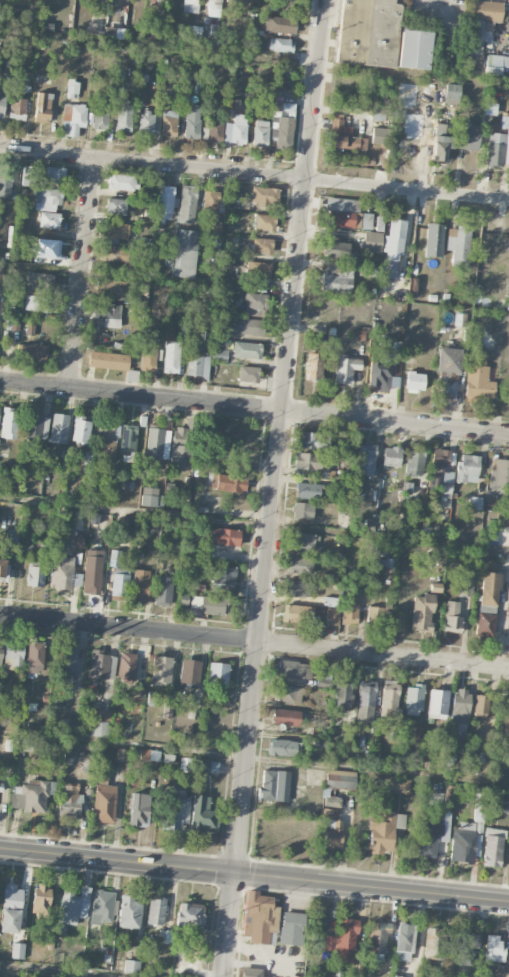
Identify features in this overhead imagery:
building: (190, 6)
building: (215, 8)
building: (486, 11)
road: (442, 24)
building: (280, 25)
building: (94, 29)
building: (368, 33)
building: (475, 36)
building: (280, 45)
building: (414, 50)
road: (254, 57)
building: (495, 65)
building: (72, 91)
building: (451, 93)
building: (233, 104)
building: (2, 106)
building: (283, 106)
building: (42, 108)
building: (17, 109)
building: (490, 109)
building: (113, 112)
building: (73, 118)
building: (192, 122)
building: (146, 123)
building: (169, 123)
building: (236, 130)
building: (213, 131)
building: (282, 132)
building: (260, 133)
building: (344, 136)
building: (468, 136)
building: (442, 142)
building: (495, 150)
building: (507, 152)
building: (50, 174)
road: (254, 175)
building: (28, 176)
building: (122, 182)
building: (5, 186)
building: (264, 196)
building: (47, 200)
building: (211, 201)
building: (232, 203)
building: (187, 204)
building: (116, 206)
building: (347, 215)
building: (49, 220)
building: (264, 222)
building: (379, 224)
building: (115, 230)
building: (213, 231)
building: (434, 240)
building: (372, 242)
building: (262, 246)
building: (458, 246)
building: (392, 247)
building: (47, 249)
building: (338, 250)
building: (113, 253)
building: (185, 254)
road: (82, 272)
building: (258, 273)
building: (337, 278)
building: (110, 289)
building: (38, 292)
building: (255, 305)
building: (108, 314)
building: (13, 324)
building: (249, 327)
building: (29, 329)
building: (362, 335)
building: (245, 350)
building: (32, 352)
building: (148, 355)
building: (218, 355)
building: (171, 357)
building: (108, 361)
building: (197, 366)
building: (314, 366)
building: (345, 369)
building: (380, 370)
building: (447, 371)
building: (248, 374)
building: (415, 382)
building: (478, 383)
road: (254, 406)
building: (8, 423)
building: (38, 428)
building: (58, 429)
building: (80, 432)
building: (308, 440)
building: (106, 442)
building: (128, 442)
building: (180, 448)
building: (154, 449)
building: (346, 457)
building: (366, 459)
building: (88, 460)
building: (391, 460)
building: (311, 461)
building: (415, 463)
building: (467, 469)
building: (441, 473)
building: (499, 474)
building: (228, 483)
road: (273, 488)
building: (307, 491)
building: (151, 498)
building: (474, 503)
building: (302, 511)
road: (239, 522)
building: (11, 536)
building: (222, 537)
building: (302, 543)
building: (114, 558)
building: (300, 565)
building: (2, 568)
building: (387, 570)
building: (92, 572)
building: (63, 574)
building: (223, 575)
building: (35, 576)
building: (360, 581)
building: (116, 582)
building: (465, 586)
building: (139, 589)
building: (297, 589)
building: (490, 589)
building: (163, 591)
building: (210, 606)
building: (349, 609)
building: (422, 612)
building: (293, 614)
building: (332, 617)
building: (377, 617)
building: (452, 618)
building: (485, 625)
road: (254, 641)
building: (0, 655)
building: (13, 655)
building: (35, 657)
building: (66, 664)
building: (99, 664)
building: (126, 667)
building: (294, 670)
building: (161, 671)
building: (190, 672)
building: (218, 674)
building: (139, 688)
building: (343, 692)
building: (288, 694)
building: (389, 697)
building: (414, 698)
building: (365, 703)
building: (437, 704)
building: (481, 707)
building: (460, 708)
building: (167, 709)
building: (507, 709)
building: (286, 718)
building: (100, 723)
building: (22, 745)
building: (282, 748)
building: (123, 754)
building: (149, 755)
road: (254, 756)
building: (168, 759)
building: (86, 762)
building: (199, 766)
building: (340, 779)
building: (395, 784)
building: (135, 785)
building: (274, 786)
building: (0, 787)
building: (31, 795)
building: (103, 796)
building: (449, 798)
building: (71, 802)
building: (139, 810)
building: (176, 811)
building: (203, 815)
building: (331, 826)
building: (379, 827)
building: (469, 831)
building: (429, 835)
building: (493, 848)
road: (254, 875)
building: (40, 899)
building: (73, 906)
building: (102, 906)
building: (10, 909)
building: (155, 912)
building: (129, 913)
building: (189, 918)
building: (259, 918)
building: (292, 928)
building: (377, 939)
building: (343, 941)
building: (403, 942)
building: (434, 944)
building: (465, 947)
building: (493, 948)
building: (17, 951)
building: (131, 967)
road: (53, 971)
building: (251, 972)
building: (396, 976)

